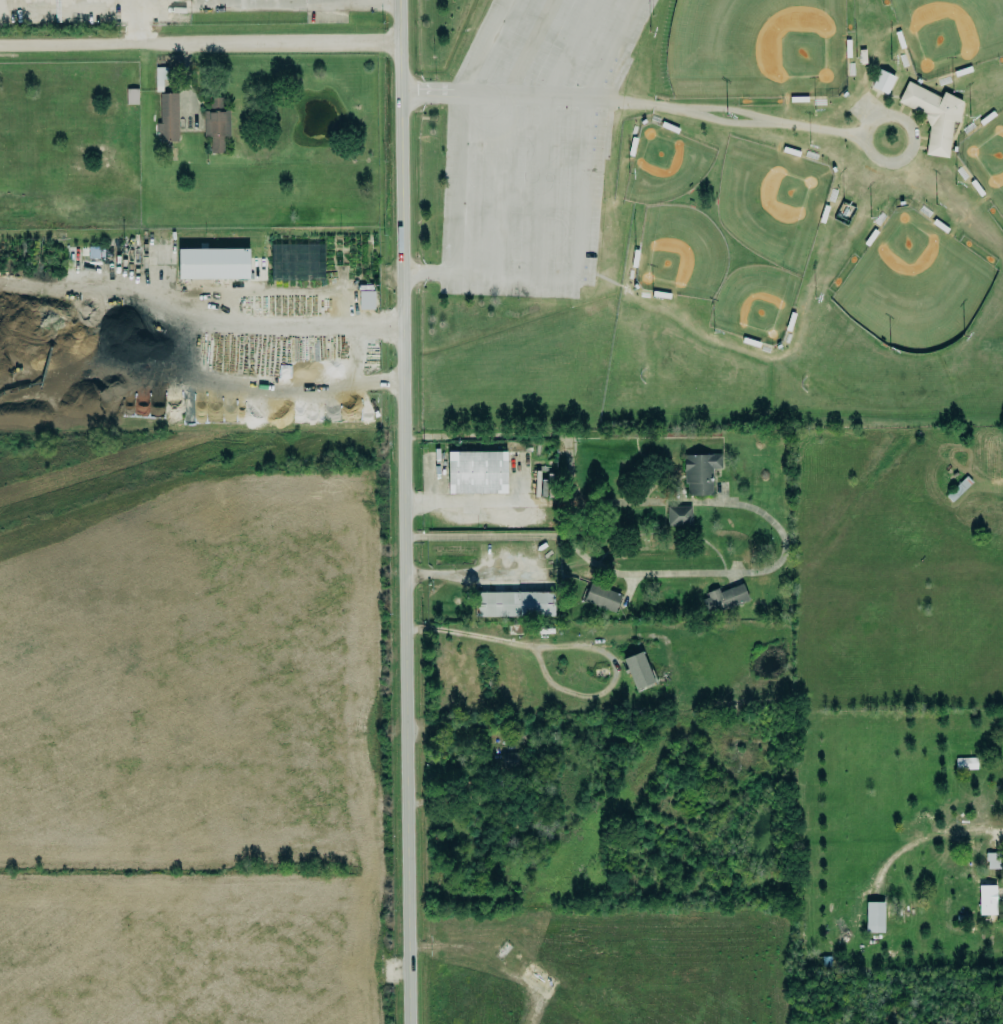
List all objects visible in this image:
road: (376, 3)
road: (288, 4)
park: (948, 33)
road: (200, 41)
park: (756, 48)
building: (160, 78)
building: (883, 82)
road: (493, 95)
building: (132, 96)
road: (735, 111)
building: (934, 116)
building: (168, 118)
building: (216, 125)
road: (811, 128)
road: (465, 132)
road: (583, 133)
road: (503, 135)
road: (546, 135)
parking lot: (556, 140)
park: (986, 158)
park: (664, 164)
park: (771, 201)
park: (711, 208)
park: (679, 253)
building: (210, 261)
road: (451, 274)
road: (538, 277)
park: (913, 285)
road: (175, 291)
building: (366, 300)
park: (754, 304)
road: (283, 326)
road: (349, 331)
road: (227, 387)
building: (474, 470)
building: (700, 473)
building: (544, 484)
road: (471, 501)
road: (405, 511)
building: (679, 516)
road: (774, 525)
road: (463, 573)
building: (602, 597)
building: (724, 599)
building: (515, 604)
road: (575, 647)
building: (638, 670)
building: (510, 760)
building: (966, 763)
road: (927, 836)
building: (993, 860)
building: (987, 900)
building: (874, 917)

